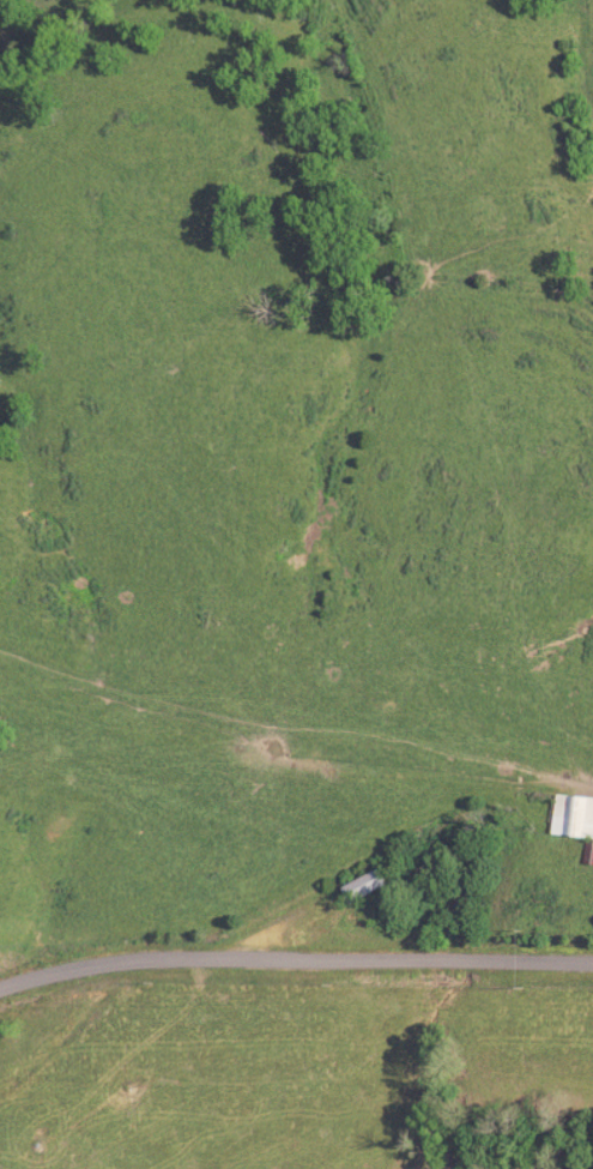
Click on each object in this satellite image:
road: (534, 787)
building: (575, 818)
road: (295, 964)

